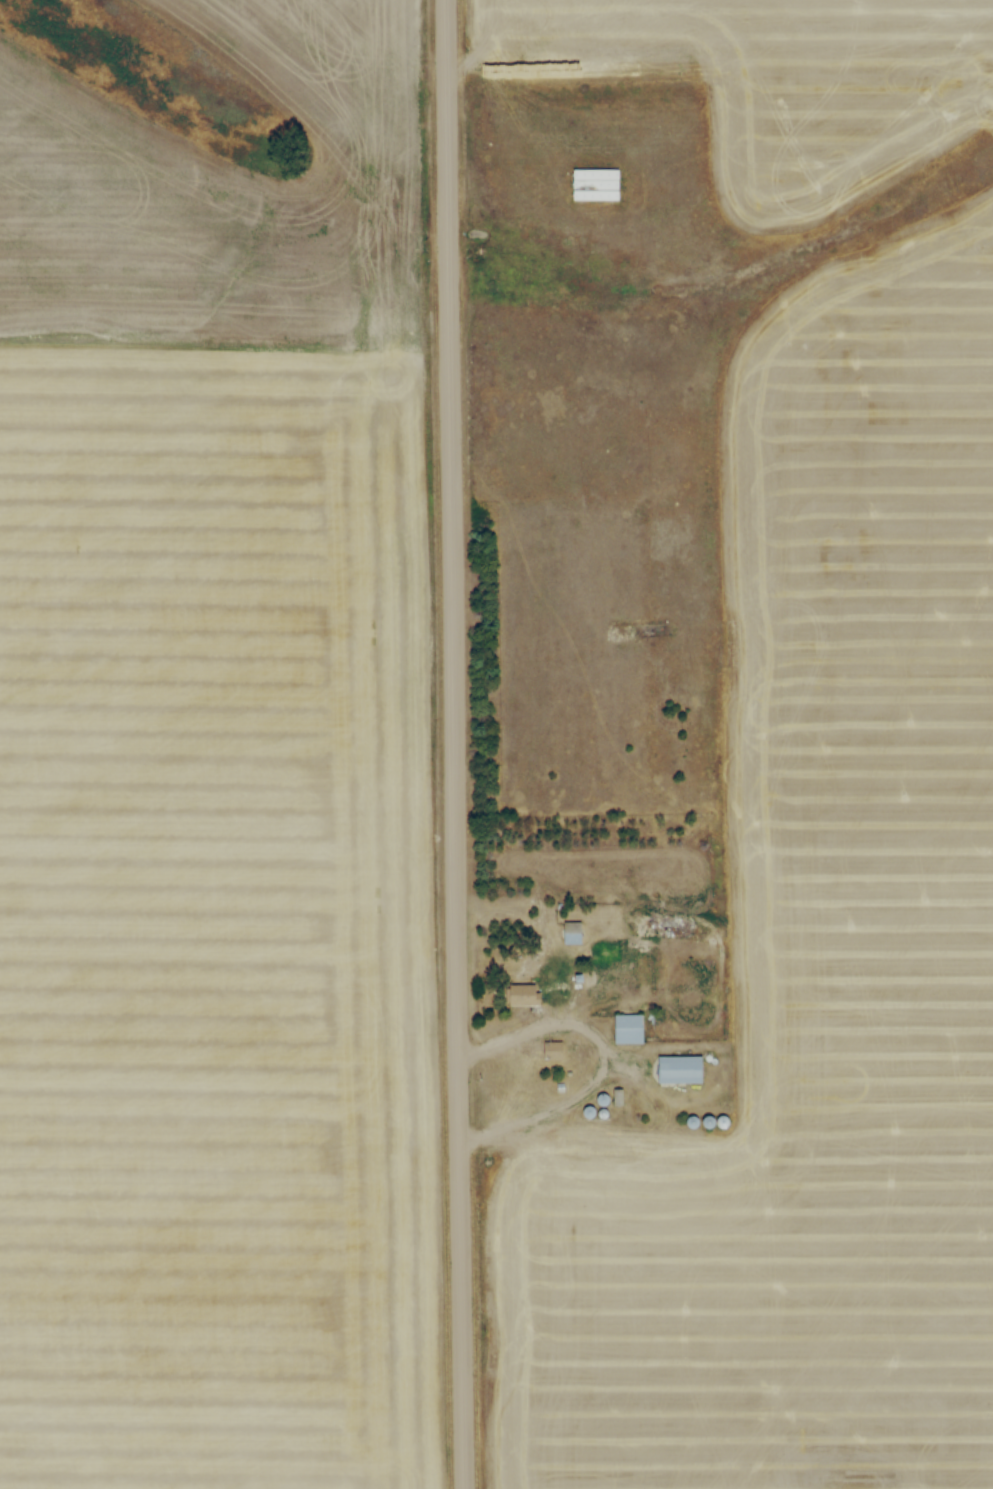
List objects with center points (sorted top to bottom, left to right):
crop: (722, 38)
road: (453, 744)
crop: (215, 779)
building: (654, 904)
building: (571, 934)
building: (641, 944)
building: (523, 993)
road: (562, 1022)
building: (628, 1028)
building: (577, 1050)
building: (553, 1051)
building: (679, 1071)
building: (604, 1098)
silo: (604, 1098)
building: (590, 1111)
silo: (590, 1111)
building: (603, 1112)
silo: (603, 1112)
building: (693, 1120)
silo: (693, 1120)
building: (709, 1120)
silo: (709, 1120)
building: (727, 1120)
silo: (727, 1120)
crop: (773, 1212)

